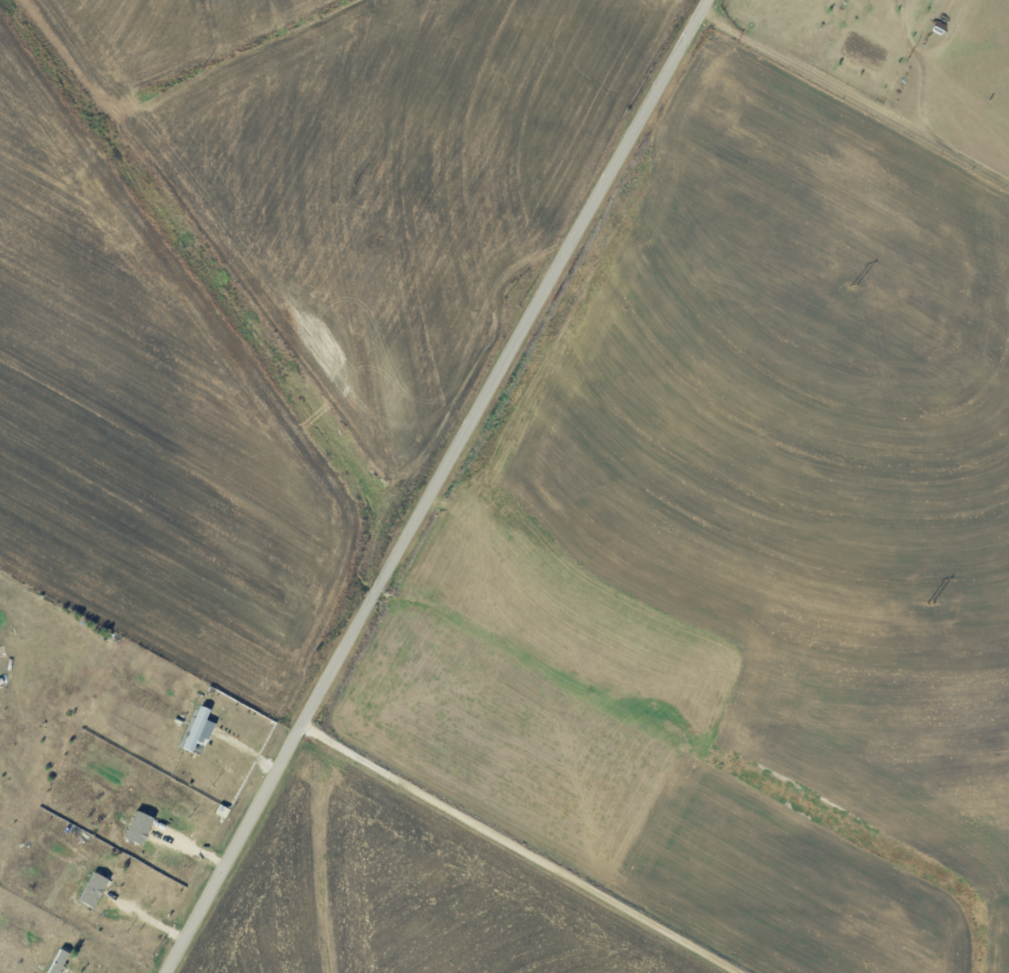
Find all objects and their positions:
power tower: (852, 285)
road: (436, 485)
power tower: (930, 601)
building: (201, 730)
building: (141, 826)
road: (523, 848)
building: (95, 888)
building: (59, 960)

